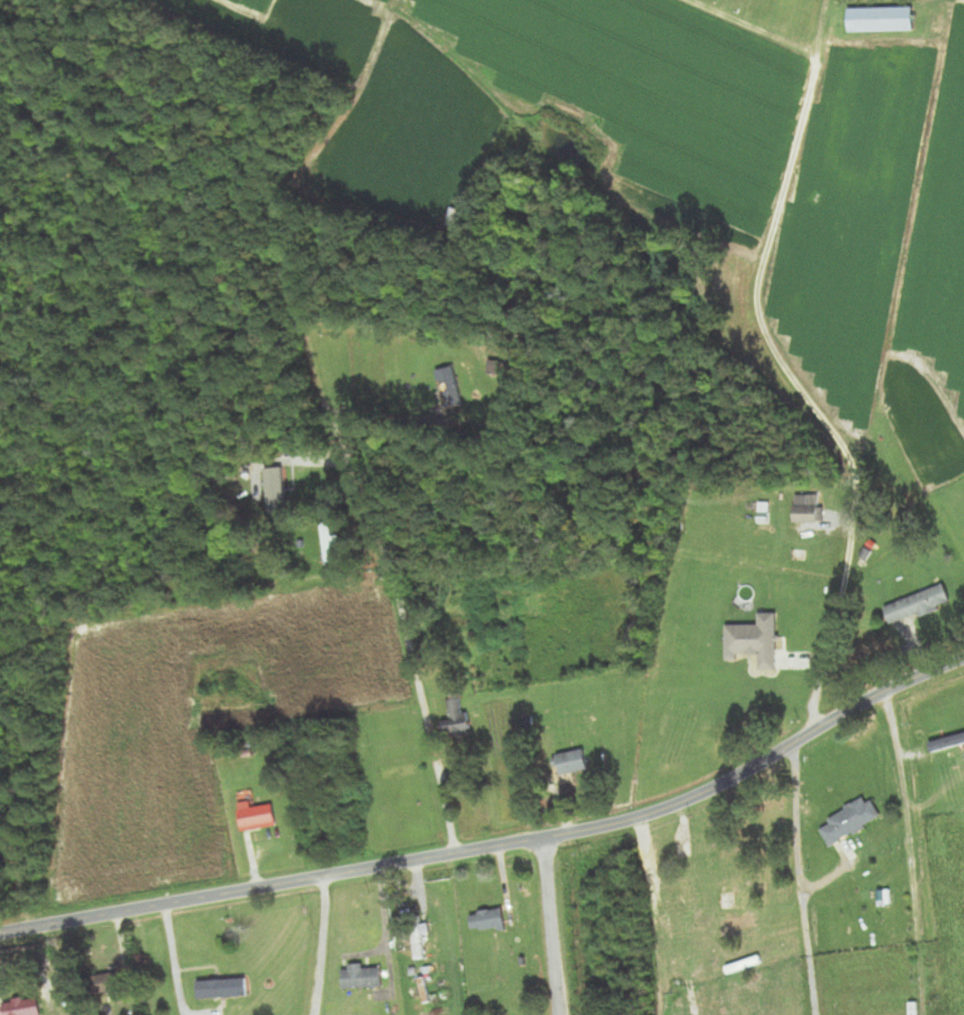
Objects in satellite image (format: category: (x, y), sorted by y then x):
road: (788, 373)
building: (450, 390)
building: (284, 490)
building: (808, 512)
building: (329, 546)
building: (918, 605)
building: (755, 640)
road: (412, 656)
building: (456, 717)
building: (572, 762)
building: (258, 815)
building: (852, 820)
road: (498, 846)
building: (703, 850)
road: (912, 852)
road: (794, 881)
building: (489, 919)
road: (552, 926)
road: (324, 946)
building: (362, 977)
building: (108, 983)
building: (223, 988)
building: (19, 1010)

